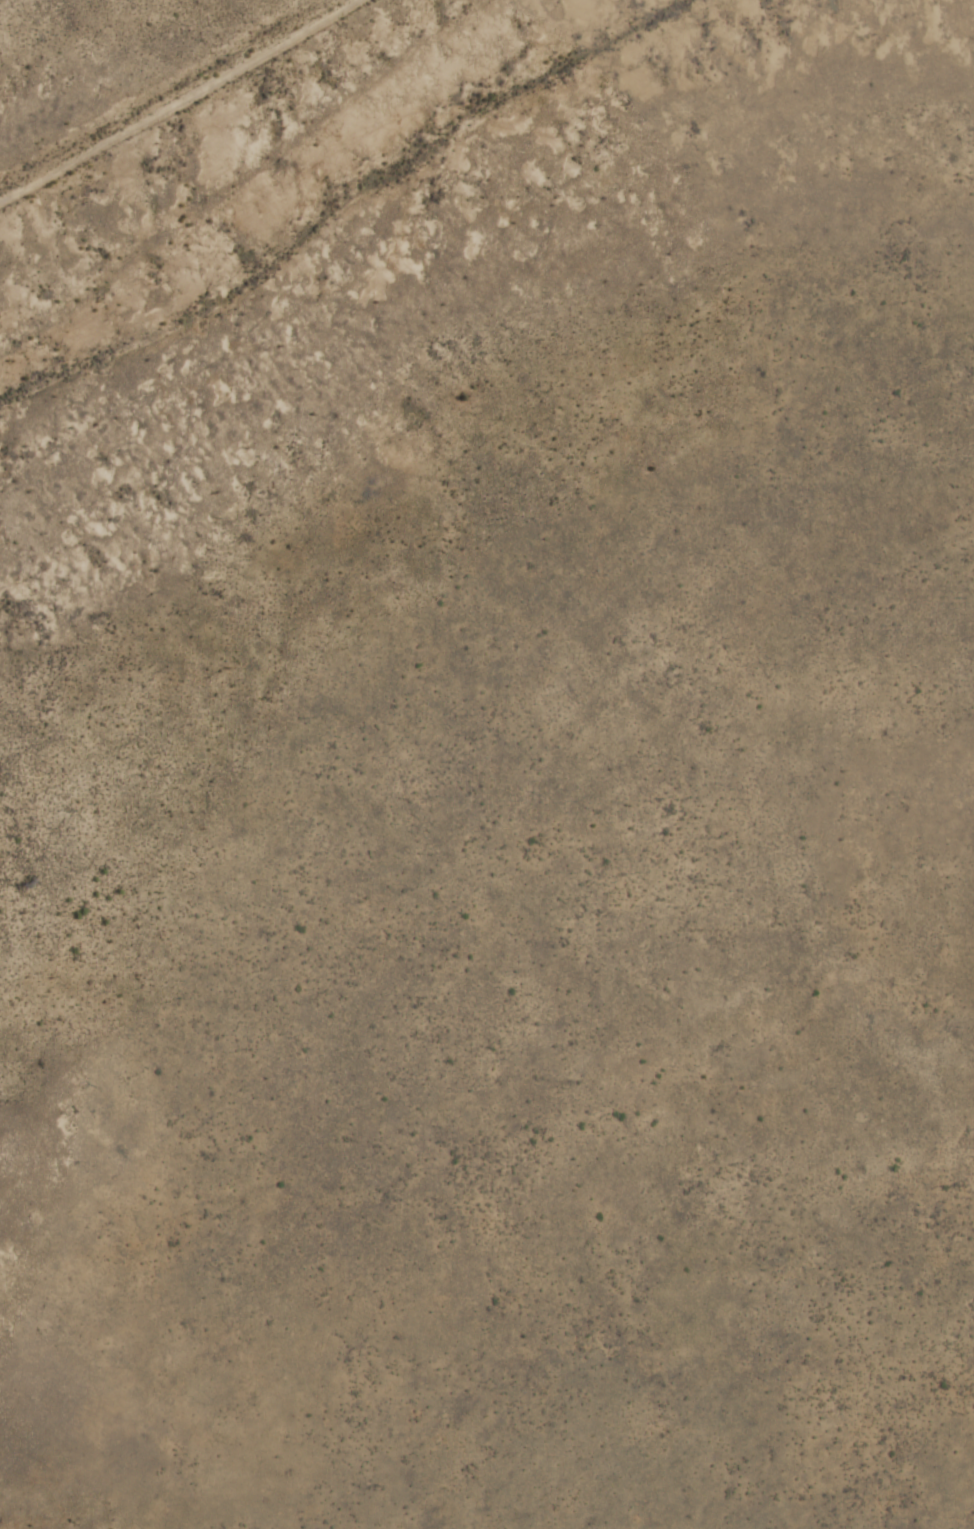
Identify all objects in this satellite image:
road: (176, 102)

